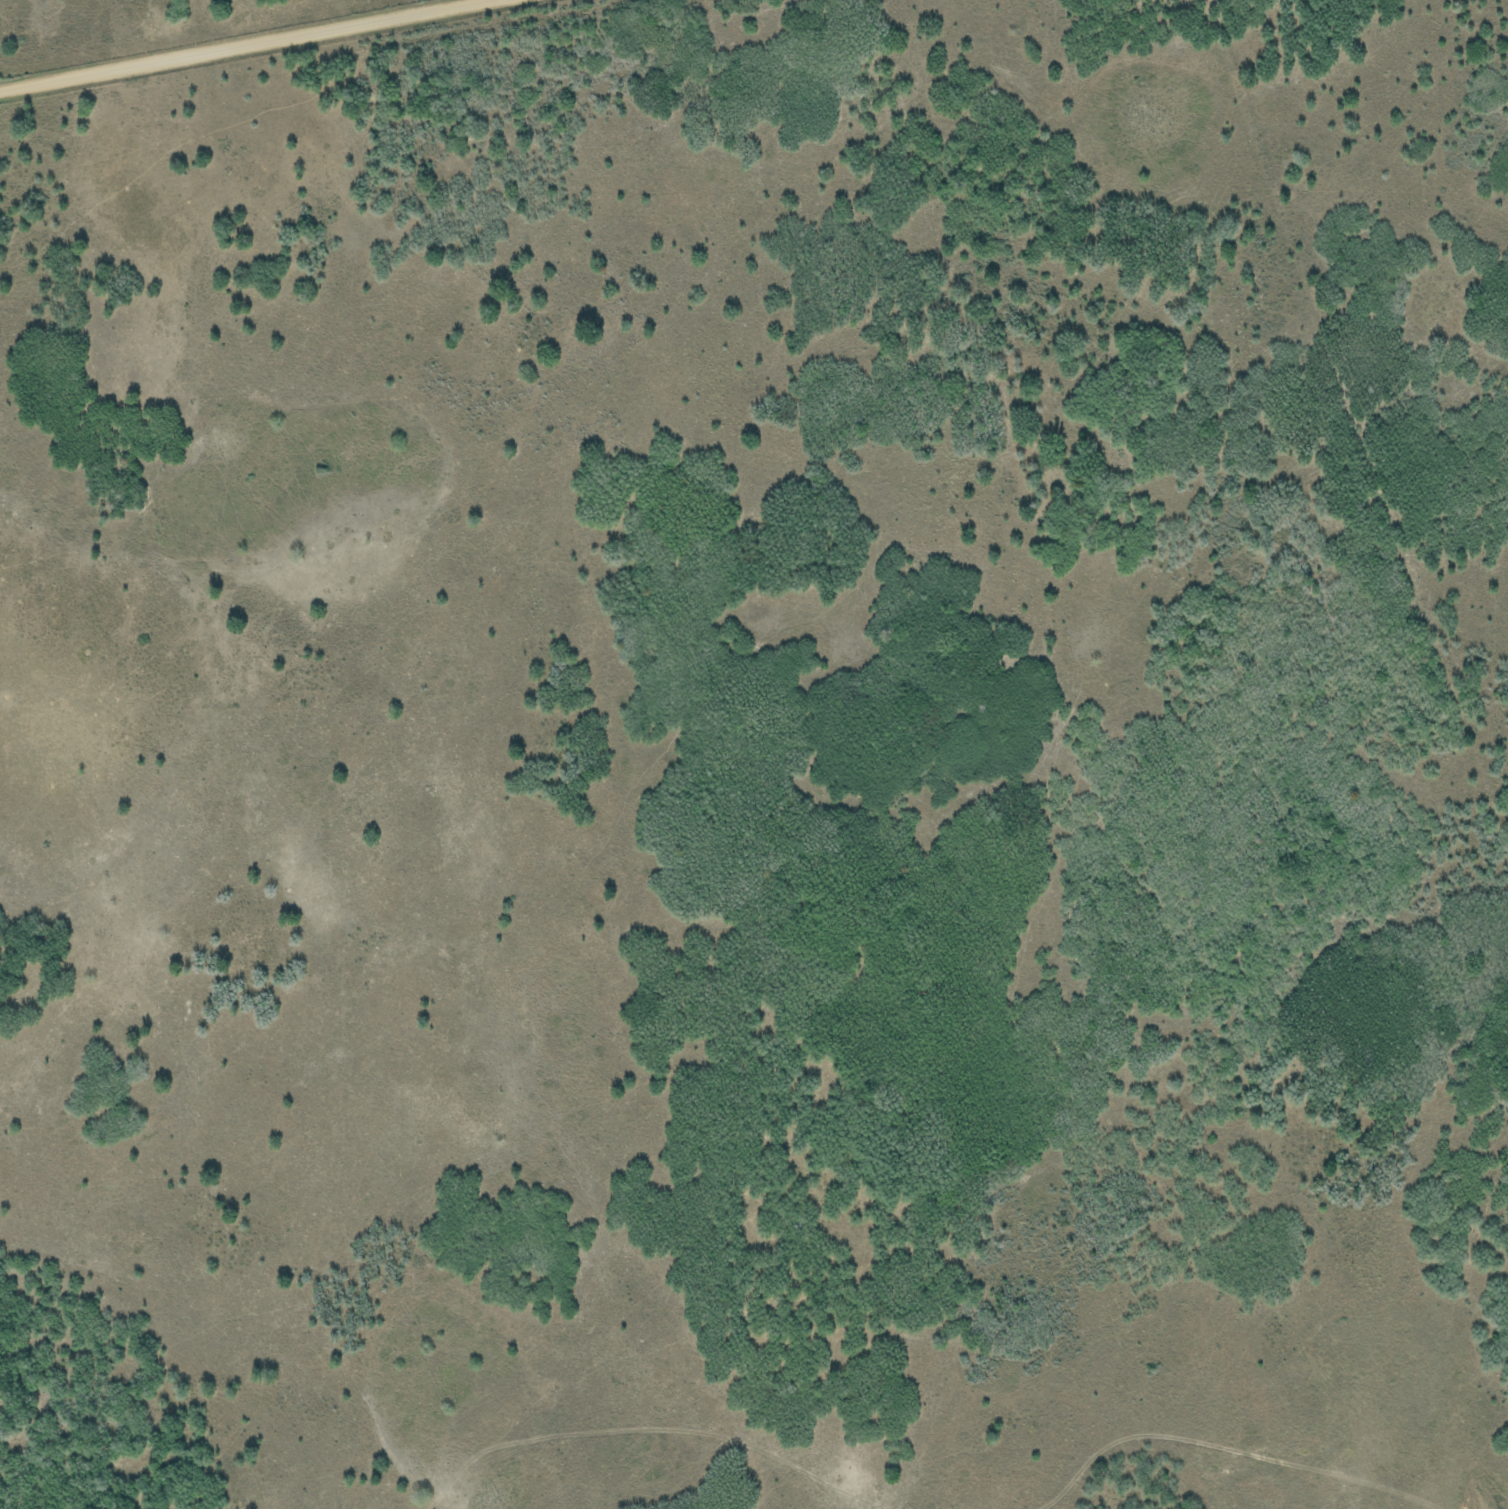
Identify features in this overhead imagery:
road: (242, 44)

